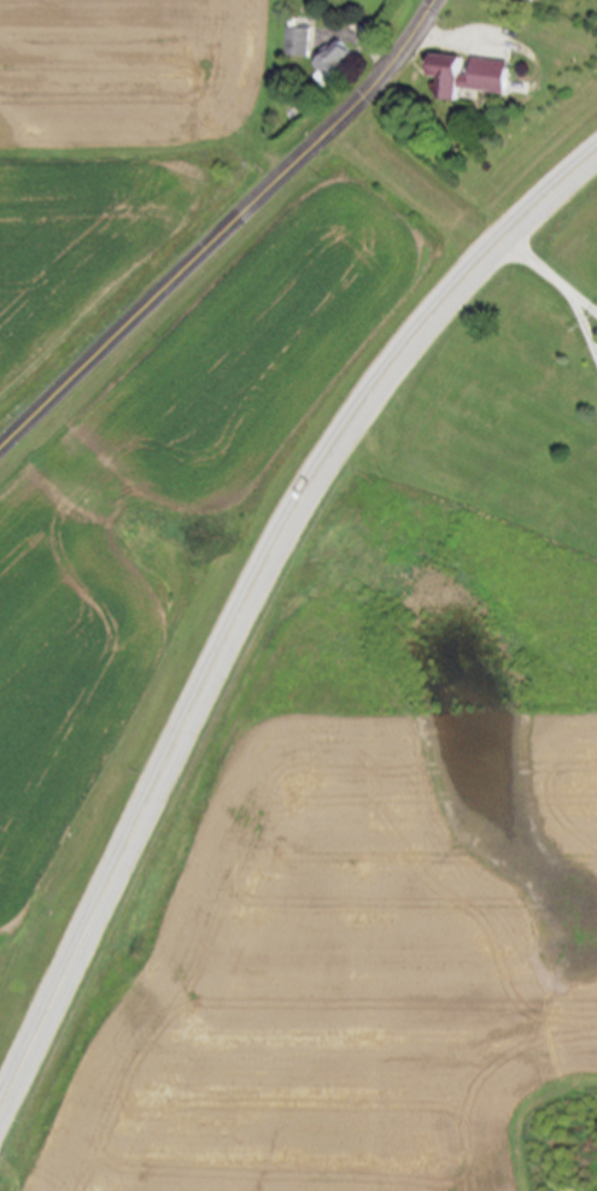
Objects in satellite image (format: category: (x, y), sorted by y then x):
building: (302, 43)
building: (334, 63)
building: (466, 76)
road: (420, 184)
road: (227, 233)
road: (540, 265)
road: (585, 304)
road: (585, 319)
road: (246, 600)

